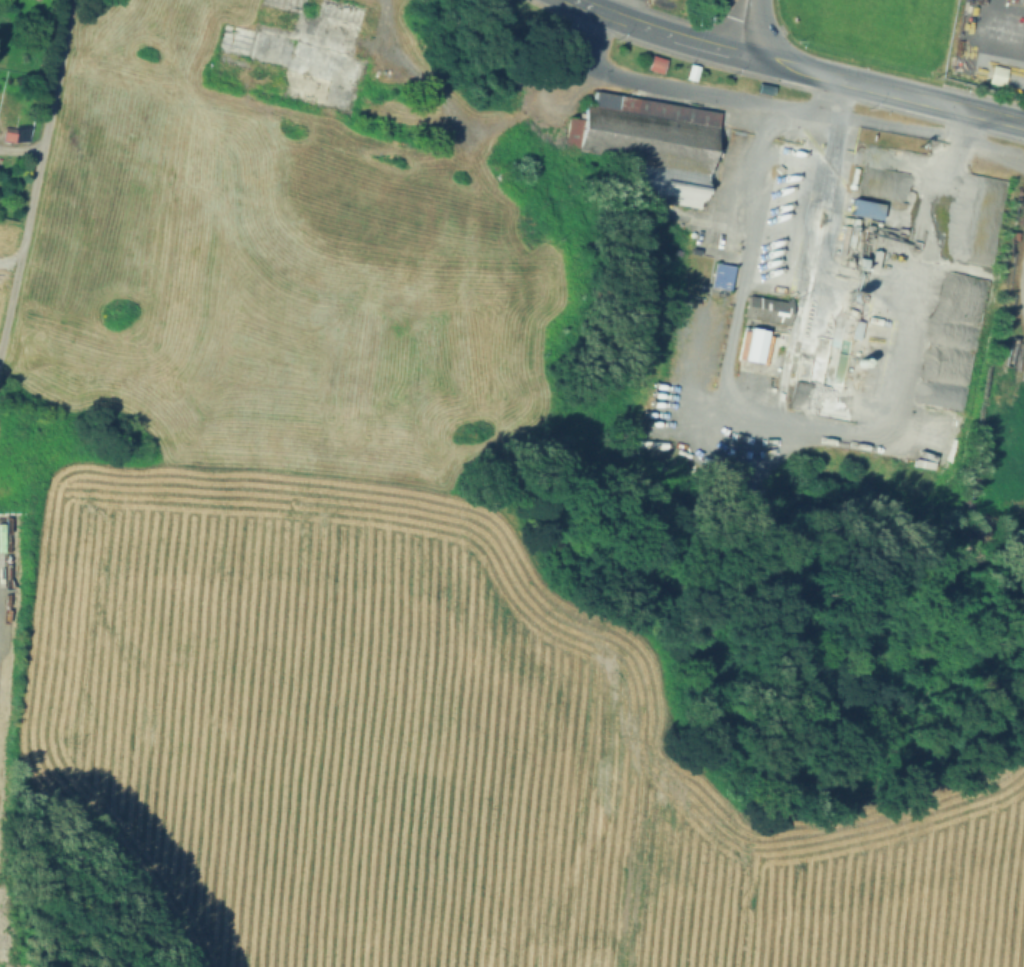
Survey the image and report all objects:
road: (618, 9)
road: (746, 27)
road: (657, 30)
building: (292, 54)
building: (653, 64)
building: (690, 72)
building: (743, 85)
road: (882, 90)
road: (839, 96)
road: (764, 98)
road: (462, 119)
building: (8, 135)
building: (645, 144)
road: (20, 147)
road: (991, 154)
road: (34, 174)
building: (863, 208)
building: (720, 277)
building: (766, 309)
road: (729, 342)
building: (797, 395)
crop: (519, 715)

